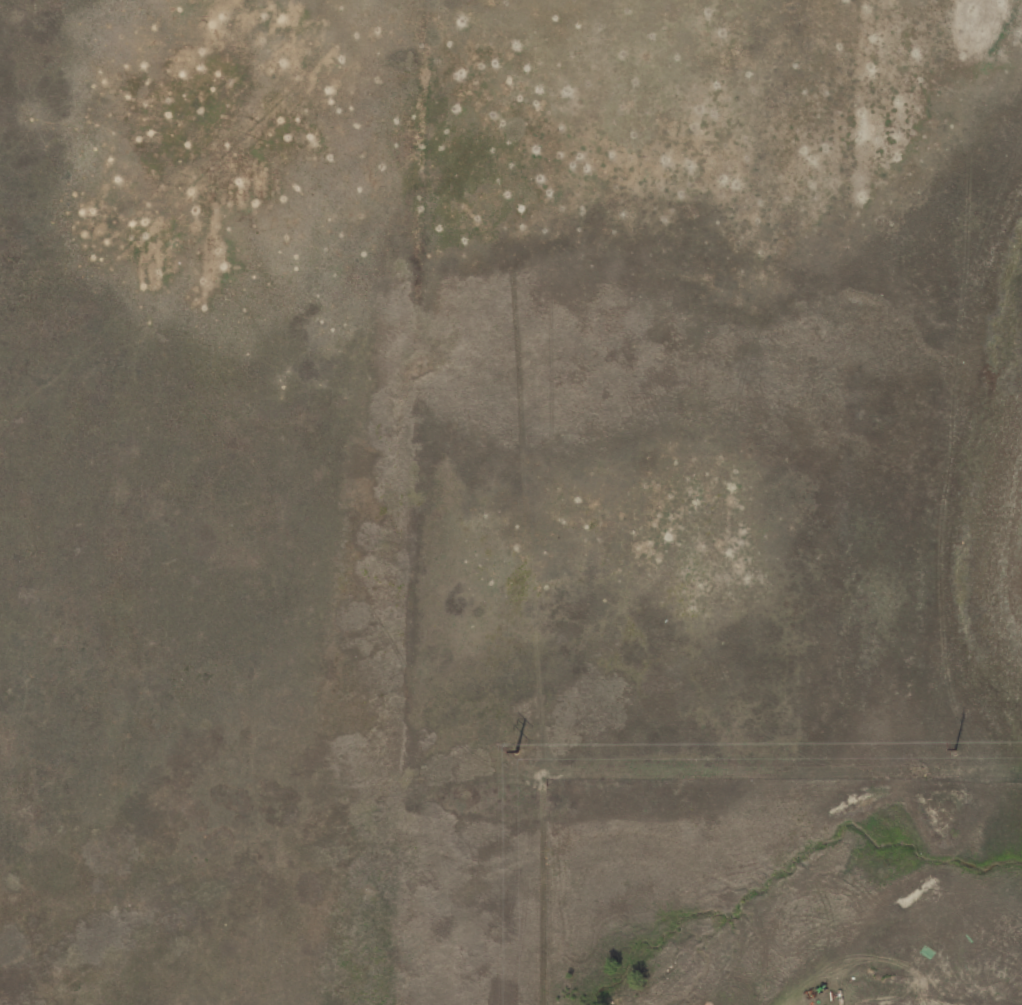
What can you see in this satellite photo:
power tower: (954, 749)
power tower: (516, 750)

